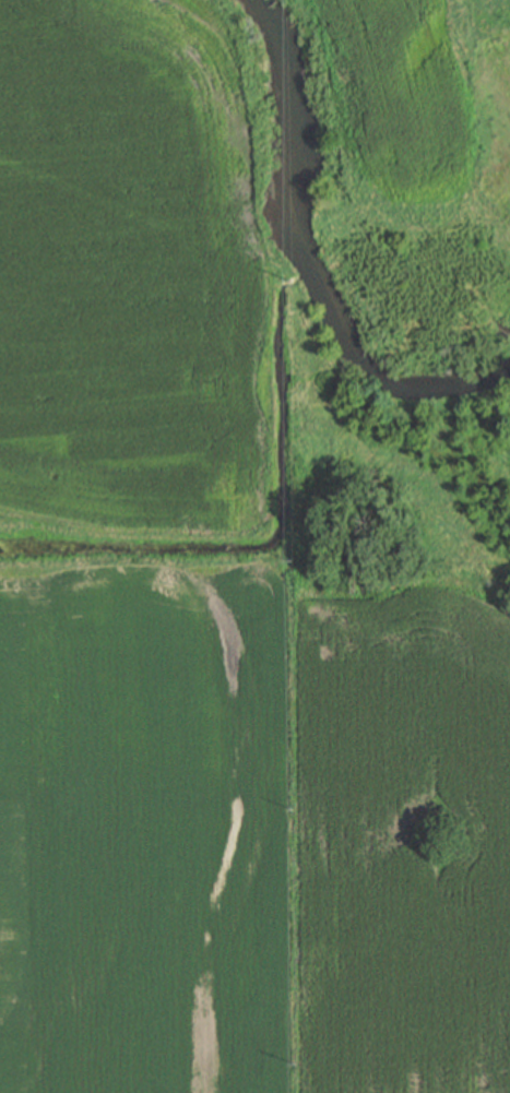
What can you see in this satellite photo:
crop: (399, 105)
river: (309, 262)
crop: (128, 270)
crop: (143, 829)
crop: (405, 840)

